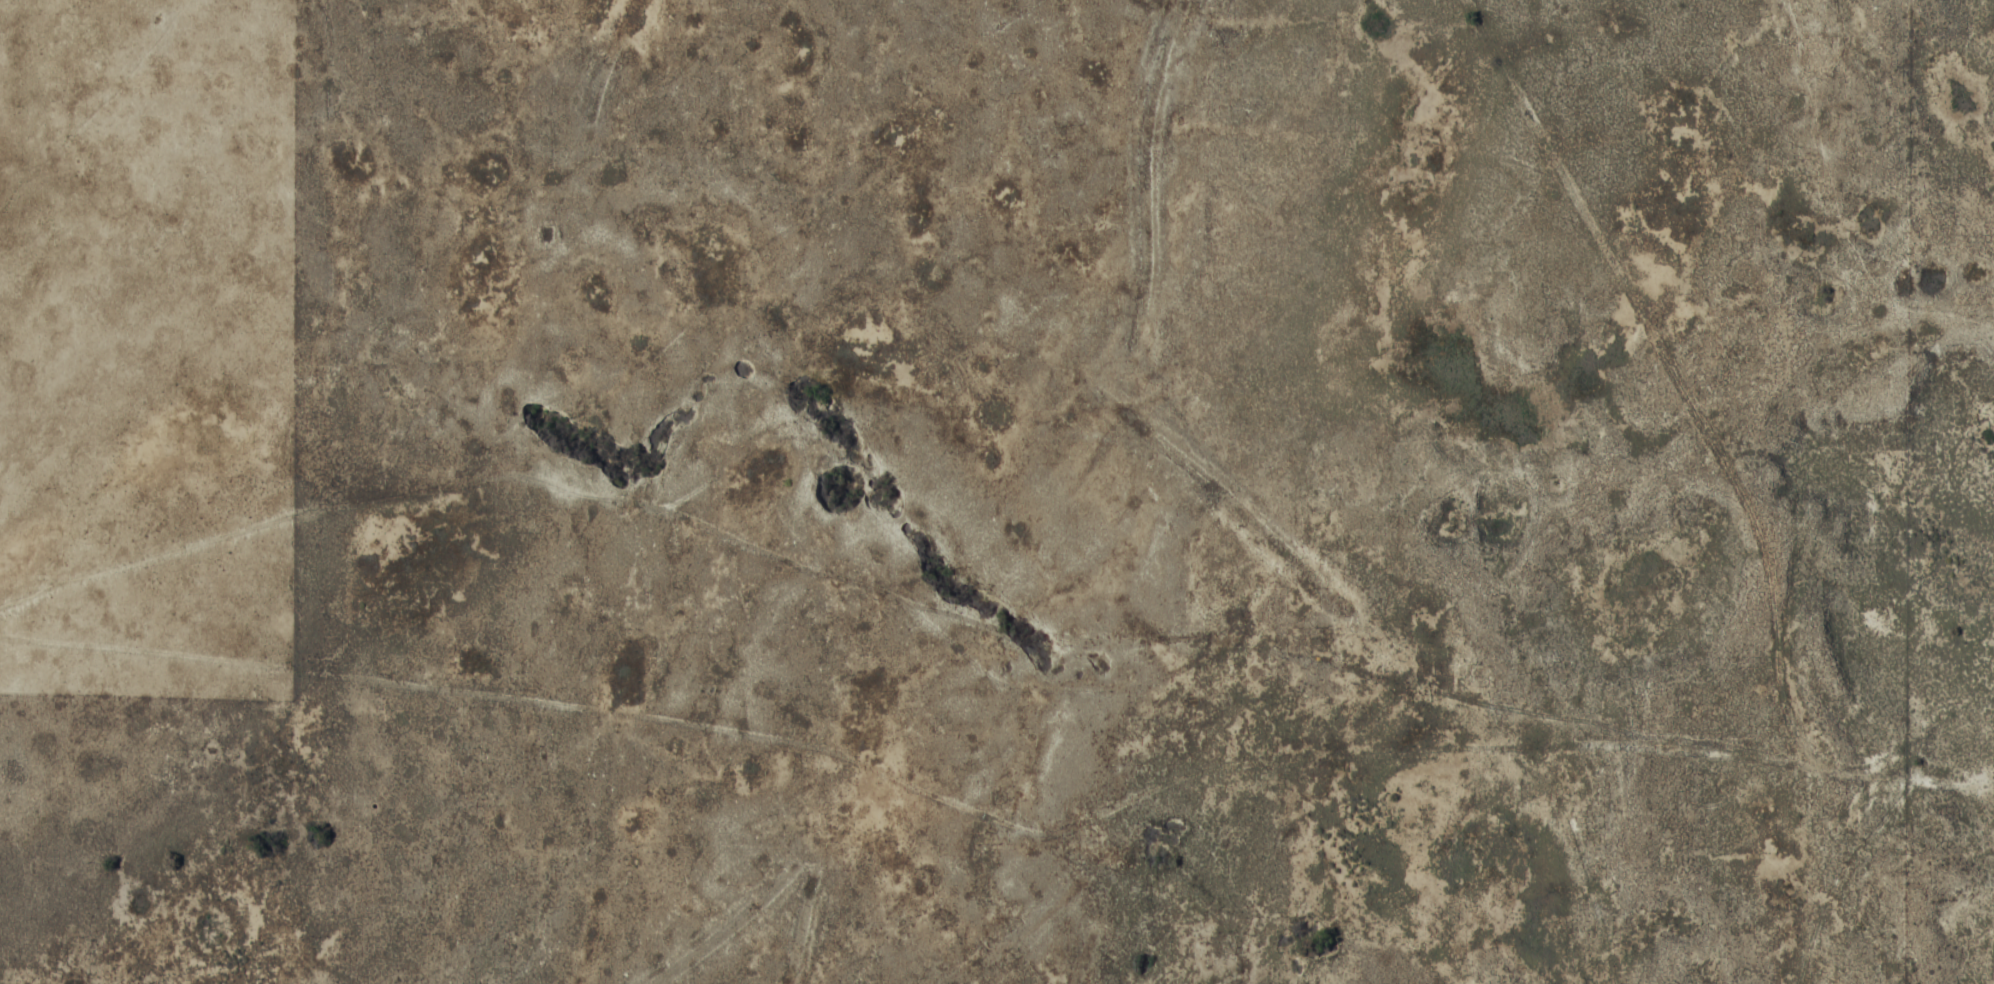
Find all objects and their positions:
road: (1638, 380)
road: (986, 788)
road: (1991, 960)

